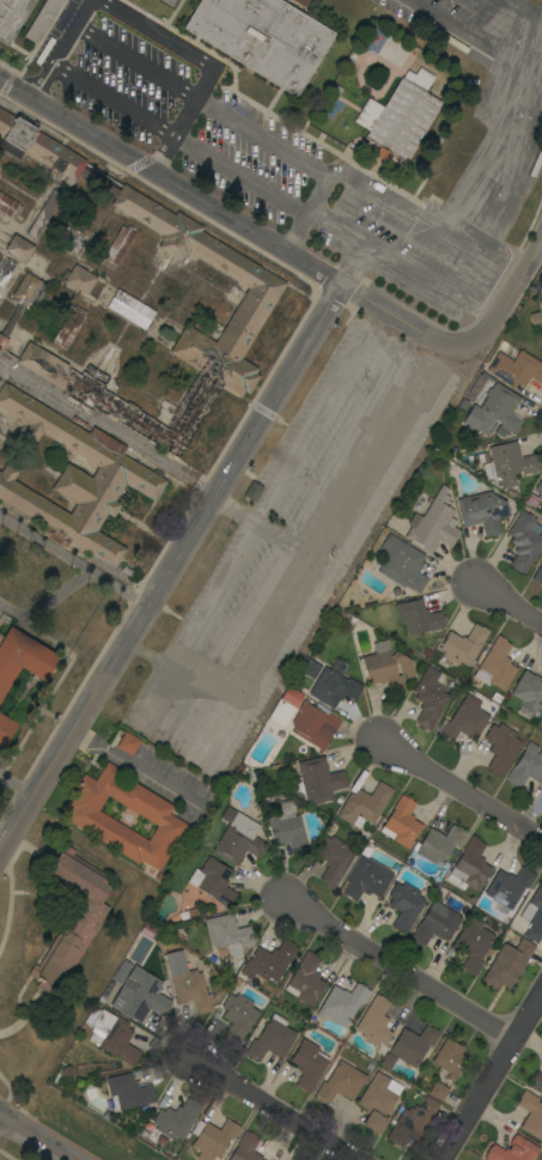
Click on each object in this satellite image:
building: (169, 1)
building: (300, 2)
road: (500, 2)
road: (520, 13)
building: (12, 17)
building: (42, 19)
road: (458, 29)
road: (73, 32)
building: (262, 37)
building: (395, 49)
road: (194, 53)
road: (136, 62)
building: (420, 78)
road: (115, 99)
building: (369, 114)
building: (402, 121)
road: (281, 146)
road: (487, 151)
road: (523, 157)
road: (342, 181)
road: (263, 186)
building: (8, 206)
building: (43, 214)
road: (230, 226)
building: (117, 247)
building: (18, 248)
building: (541, 265)
road: (348, 267)
building: (6, 271)
road: (476, 273)
building: (79, 279)
building: (263, 286)
road: (508, 293)
building: (23, 300)
building: (130, 309)
building: (68, 327)
road: (365, 335)
building: (507, 350)
road: (390, 357)
building: (516, 369)
building: (0, 379)
road: (276, 391)
building: (494, 412)
road: (109, 427)
road: (309, 431)
building: (511, 463)
building: (74, 480)
building: (252, 491)
building: (540, 493)
building: (420, 503)
road: (235, 511)
building: (482, 511)
road: (257, 520)
building: (433, 524)
building: (524, 541)
road: (73, 564)
building: (401, 564)
building: (537, 576)
road: (220, 589)
road: (510, 602)
building: (418, 617)
building: (463, 645)
road: (150, 657)
building: (495, 666)
building: (386, 667)
building: (309, 668)
road: (109, 673)
road: (166, 680)
building: (333, 688)
building: (26, 690)
building: (529, 691)
building: (495, 697)
building: (428, 698)
building: (285, 706)
building: (464, 718)
building: (313, 724)
building: (128, 743)
building: (501, 747)
road: (136, 765)
building: (526, 766)
building: (317, 781)
road: (17, 785)
road: (461, 790)
building: (364, 806)
building: (86, 816)
building: (401, 822)
building: (287, 828)
building: (238, 840)
building: (439, 844)
building: (333, 858)
building: (469, 867)
building: (367, 881)
building: (213, 882)
building: (507, 891)
building: (404, 905)
building: (535, 916)
building: (72, 919)
building: (436, 923)
building: (229, 935)
building: (473, 943)
building: (269, 961)
building: (507, 964)
road: (400, 968)
building: (305, 979)
building: (187, 983)
building: (140, 995)
building: (342, 1003)
building: (238, 1016)
building: (374, 1022)
building: (112, 1034)
building: (272, 1039)
building: (413, 1044)
building: (450, 1058)
building: (388, 1061)
building: (307, 1064)
road: (491, 1074)
building: (536, 1081)
building: (341, 1082)
building: (438, 1091)
building: (128, 1092)
building: (378, 1101)
road: (278, 1111)
building: (531, 1115)
building: (176, 1119)
road: (4, 1120)
building: (412, 1122)
road: (39, 1135)
building: (213, 1140)
building: (245, 1148)
building: (512, 1150)
building: (293, 1159)

